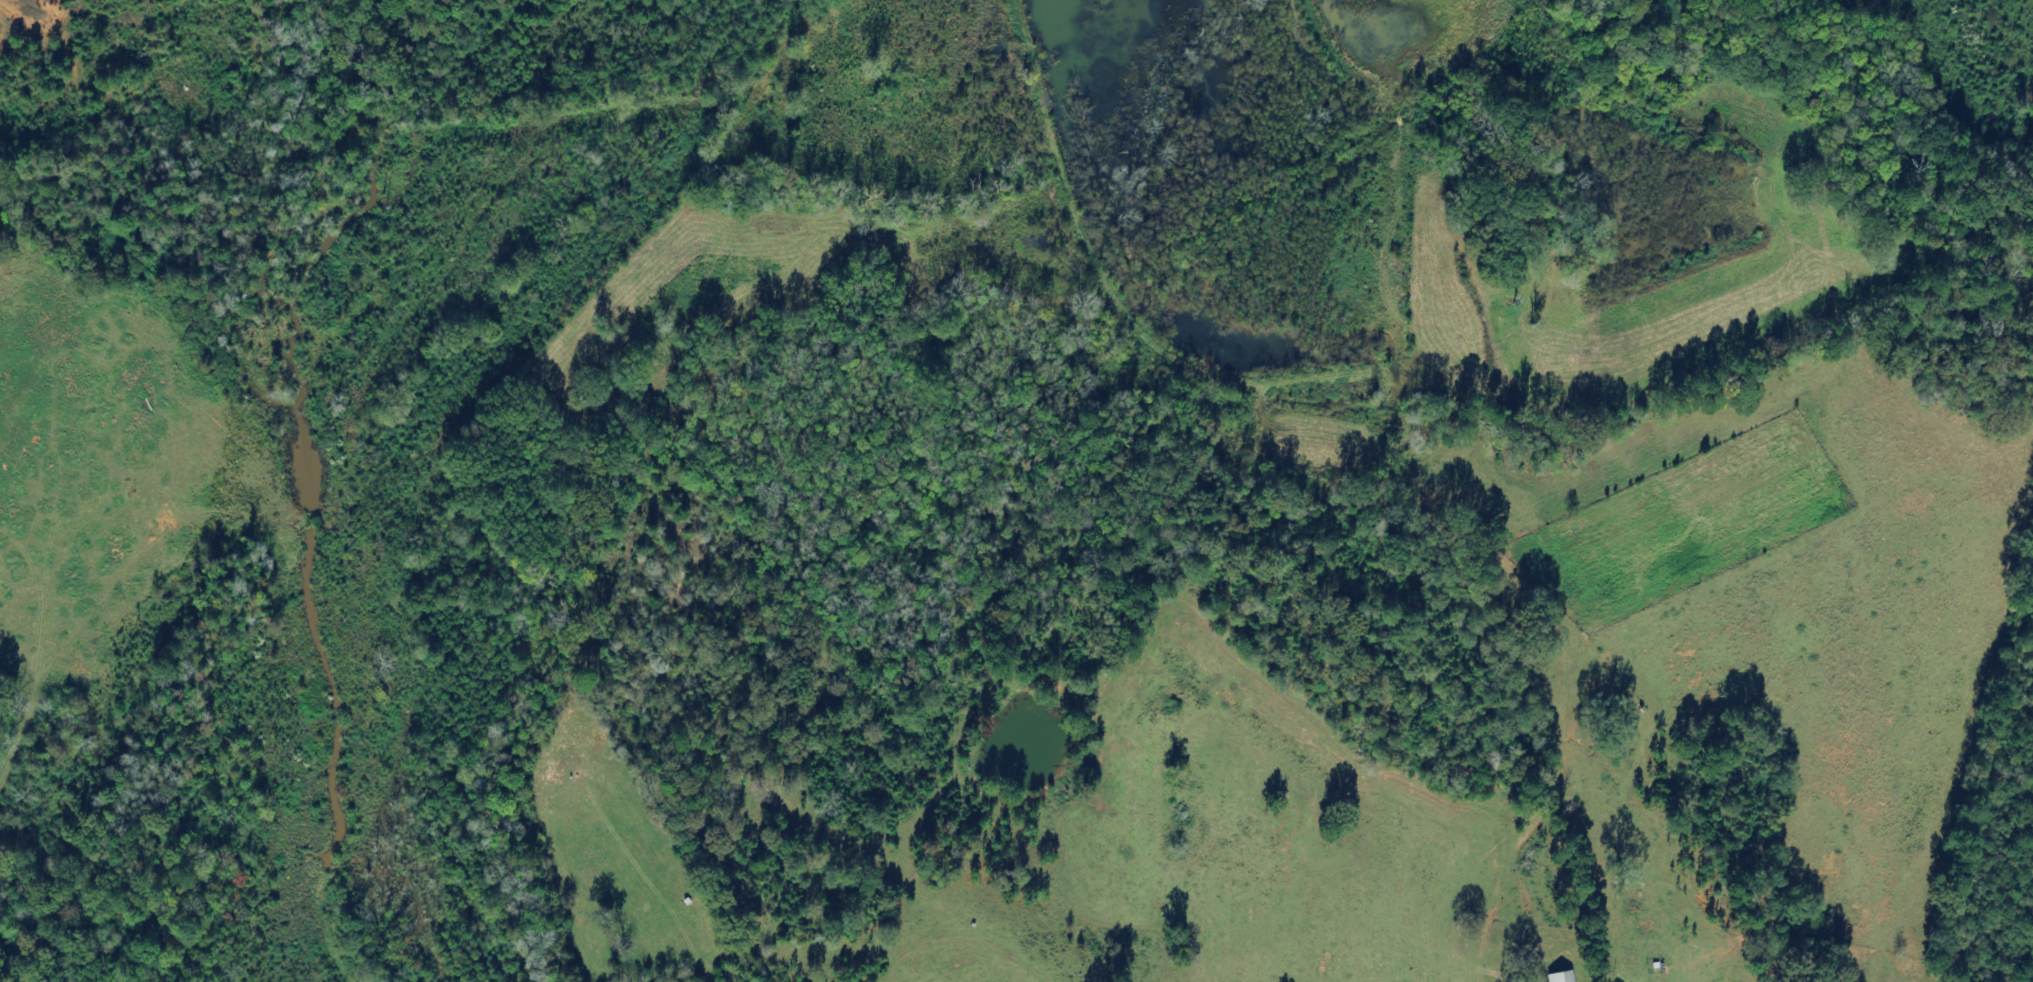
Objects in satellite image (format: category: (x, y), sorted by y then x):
building: (1565, 976)

